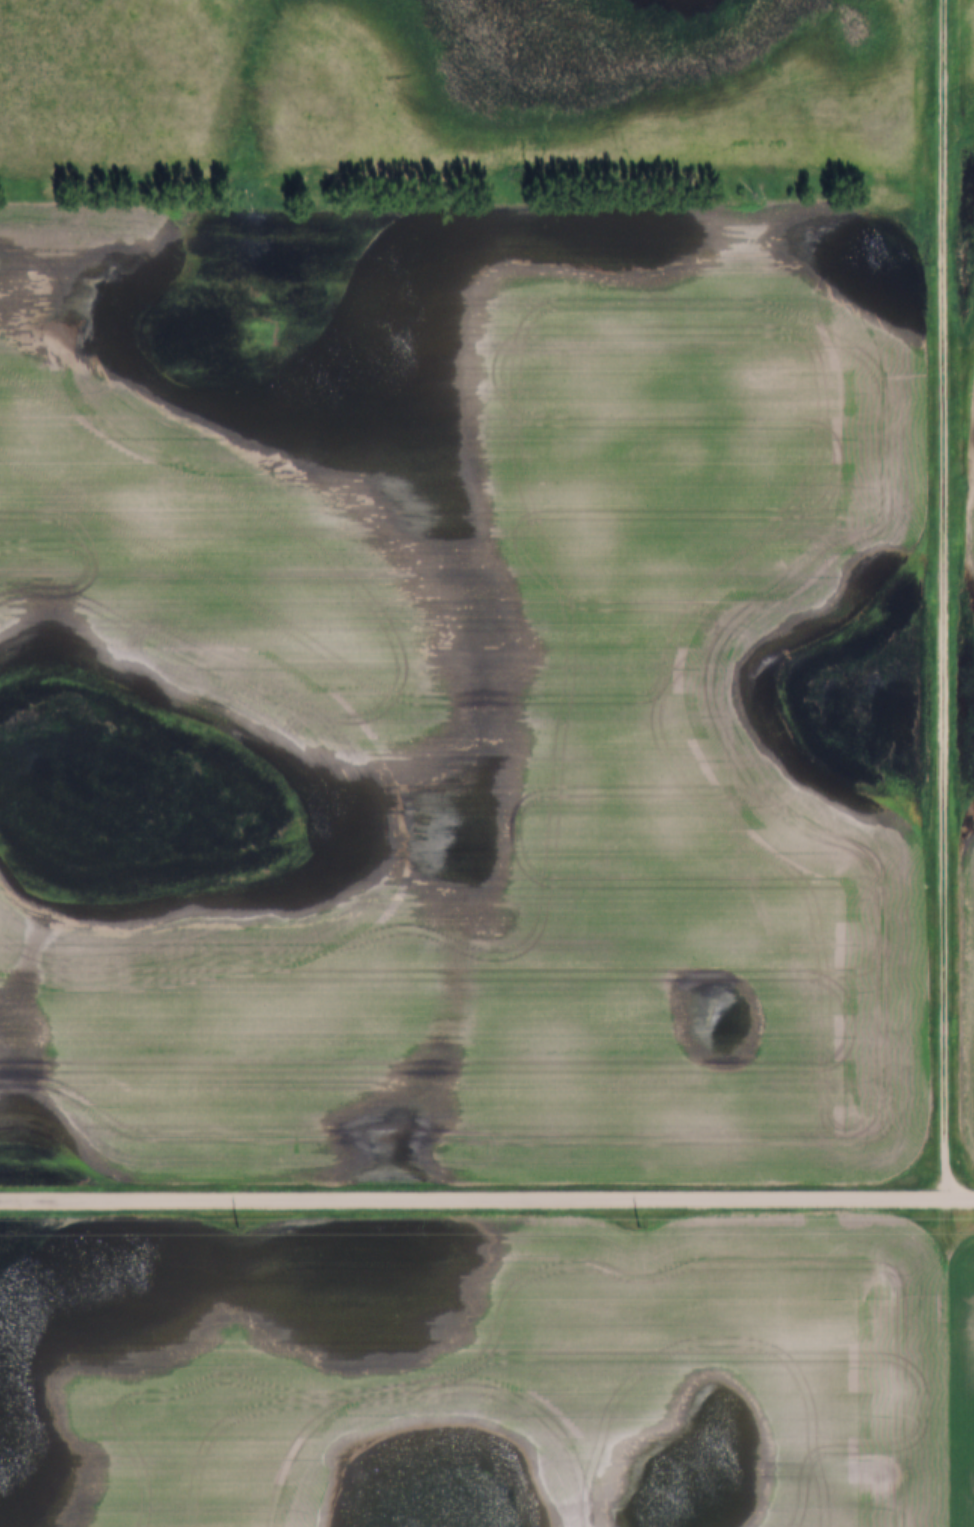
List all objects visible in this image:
road: (947, 597)
road: (487, 1197)
power tower: (228, 1229)
power tower: (641, 1229)
road: (945, 1361)

